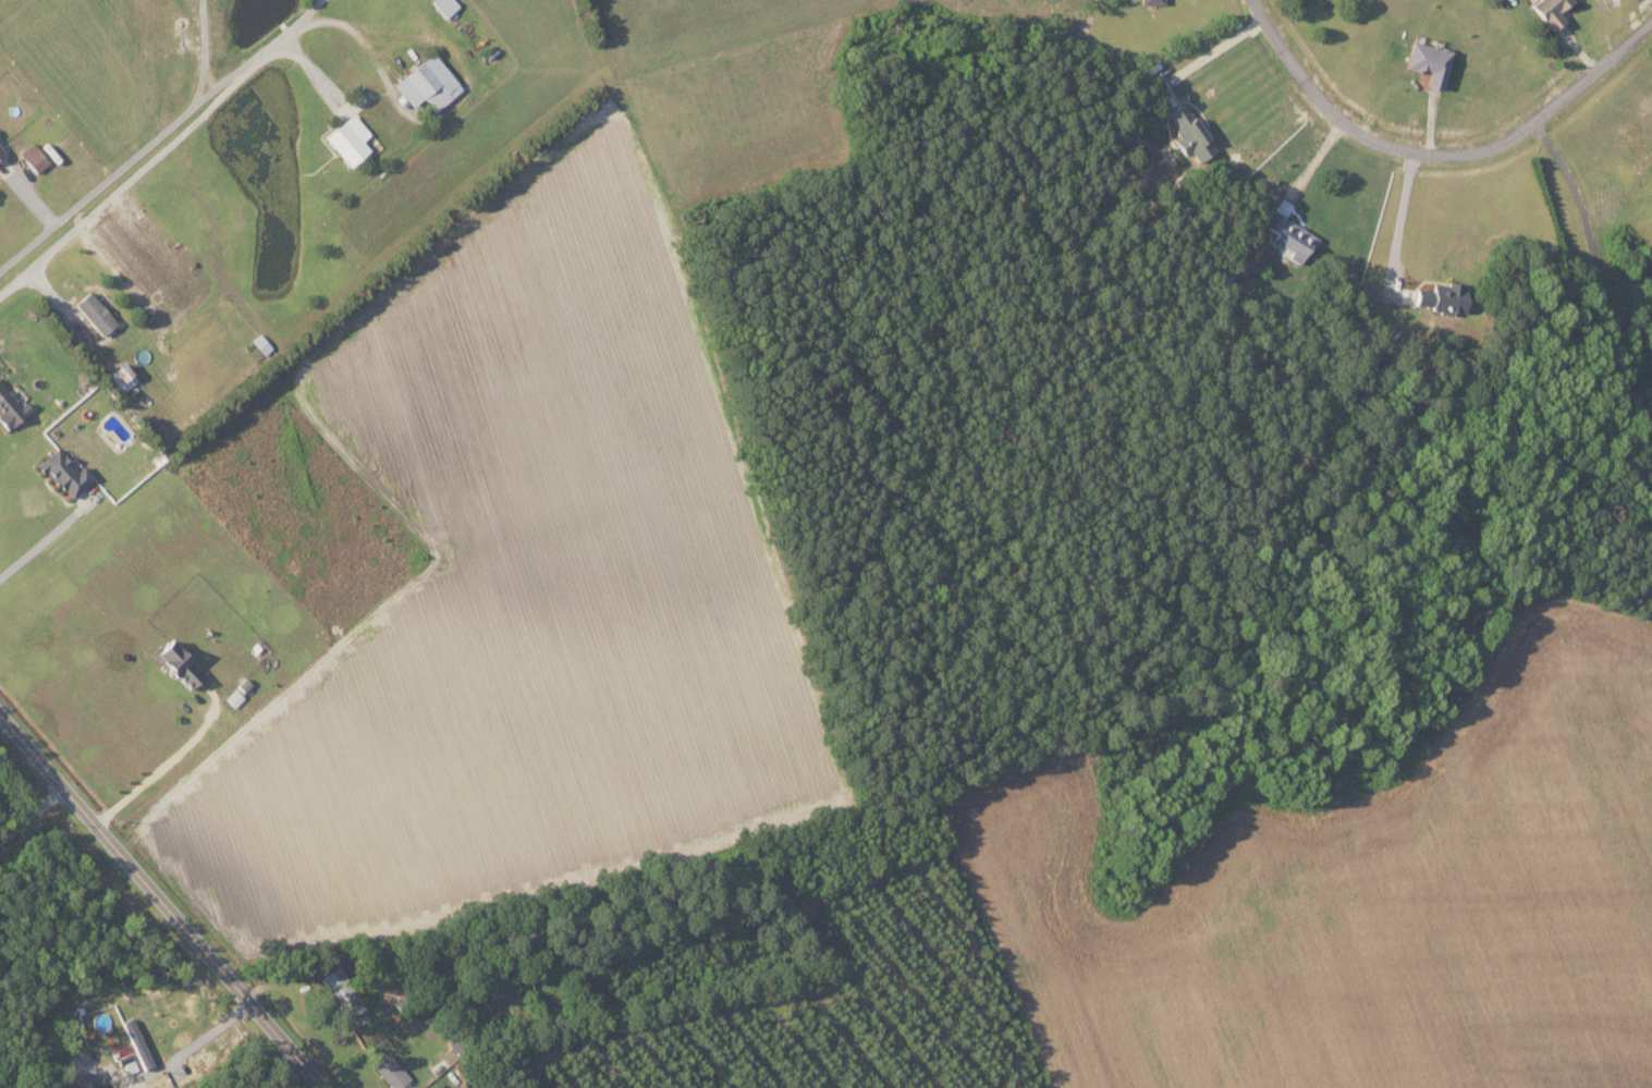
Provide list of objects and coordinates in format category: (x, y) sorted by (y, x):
building: (1152, 2)
building: (444, 7)
building: (1553, 11)
road: (1213, 50)
building: (1431, 63)
road: (315, 73)
road: (225, 83)
building: (425, 84)
building: (1190, 131)
building: (350, 139)
building: (2, 149)
road: (1443, 150)
building: (35, 156)
road: (144, 166)
road: (102, 185)
building: (1292, 236)
road: (1593, 271)
building: (1443, 296)
building: (96, 311)
building: (123, 376)
building: (11, 405)
building: (65, 473)
road: (38, 545)
building: (179, 663)
building: (234, 698)
road: (157, 770)
road: (32, 812)
road: (159, 900)
building: (342, 993)
building: (392, 1072)

